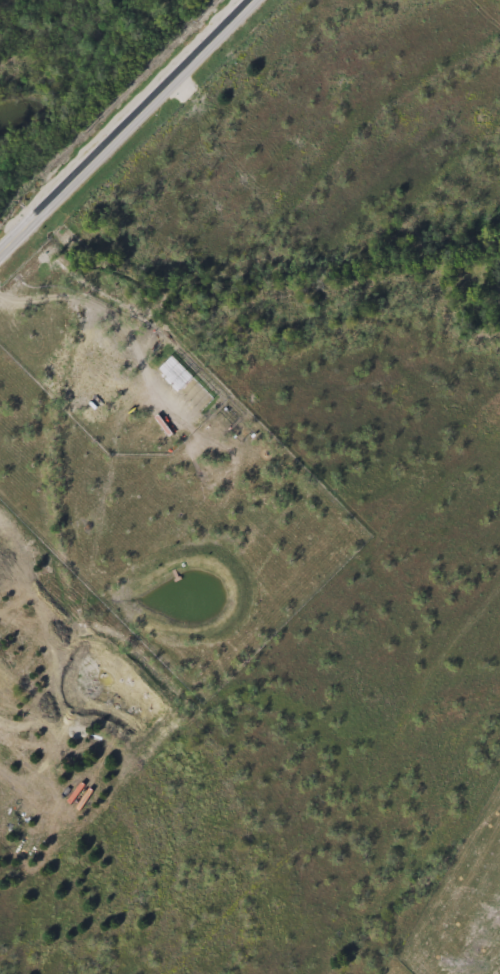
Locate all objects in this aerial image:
road: (123, 125)

